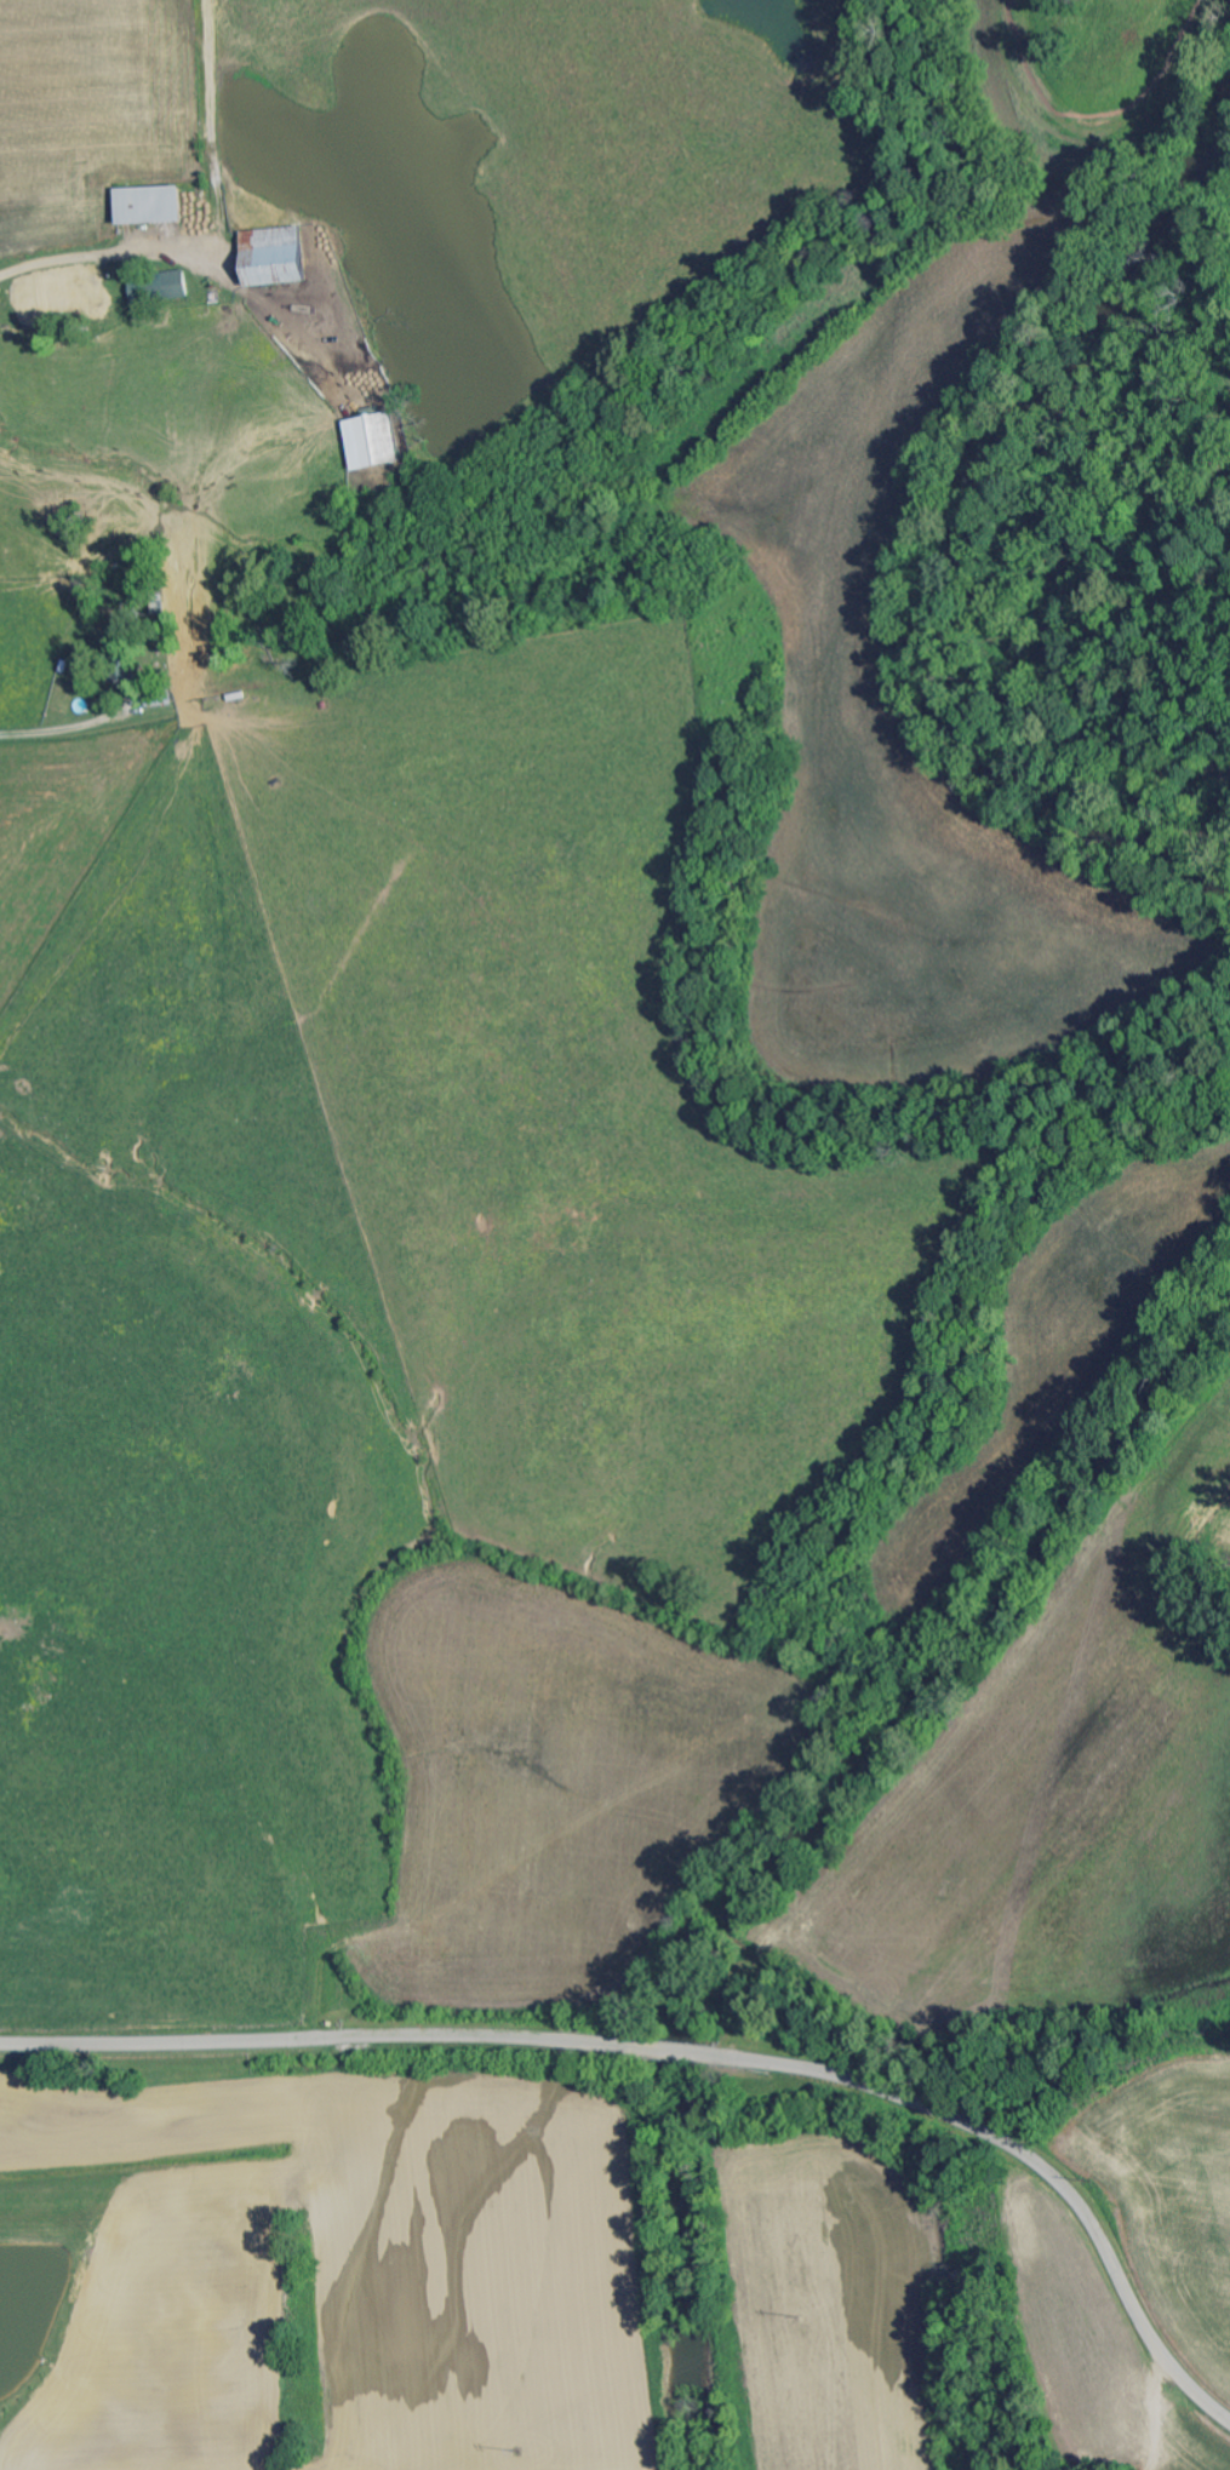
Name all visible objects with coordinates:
building: (150, 204)
building: (275, 256)
road: (172, 258)
building: (176, 285)
building: (142, 290)
building: (85, 292)
building: (374, 440)
road: (170, 682)
road: (315, 2041)
road: (675, 2053)
road: (1031, 2162)

